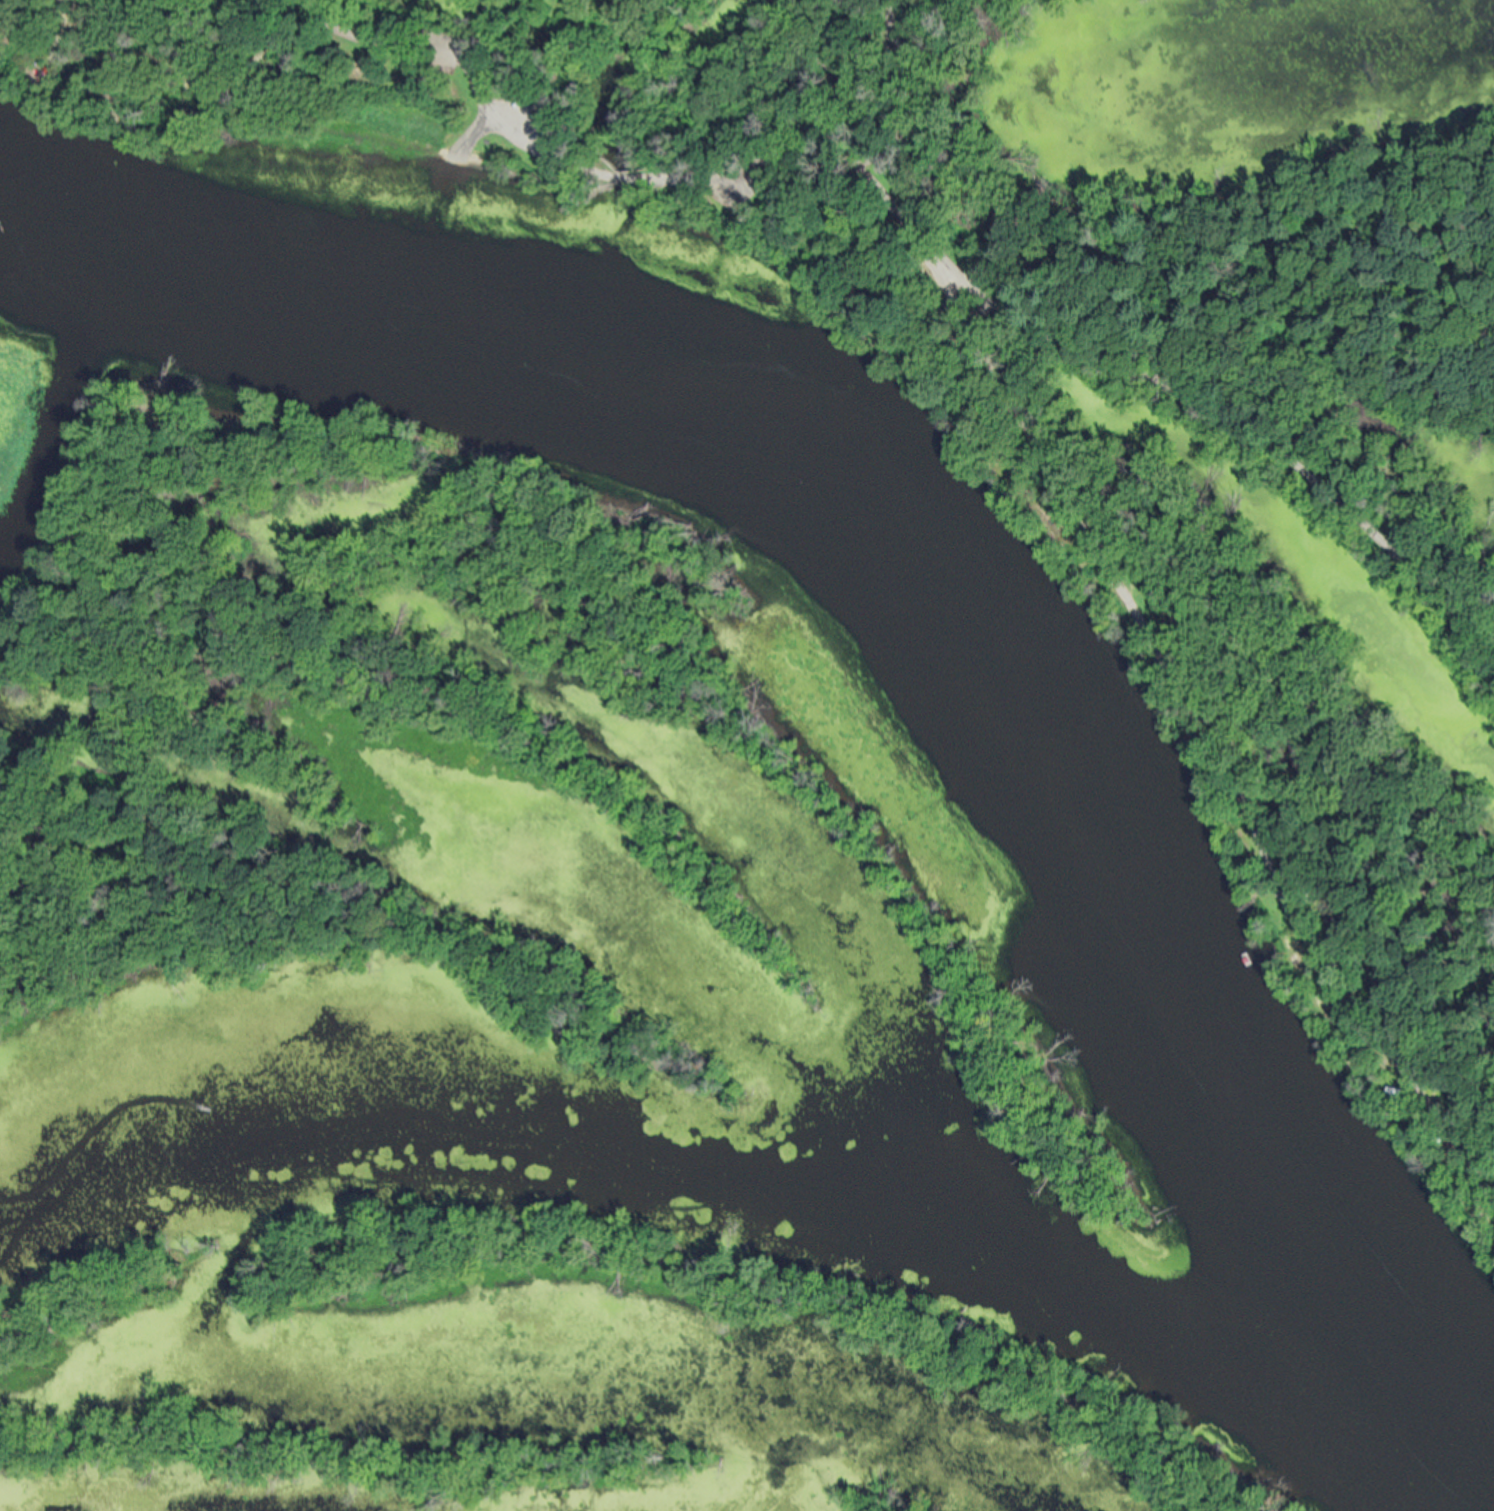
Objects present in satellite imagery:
road: (384, 37)
road: (899, 143)
road: (646, 177)
road: (219, 211)
road: (216, 264)
road: (1034, 442)

